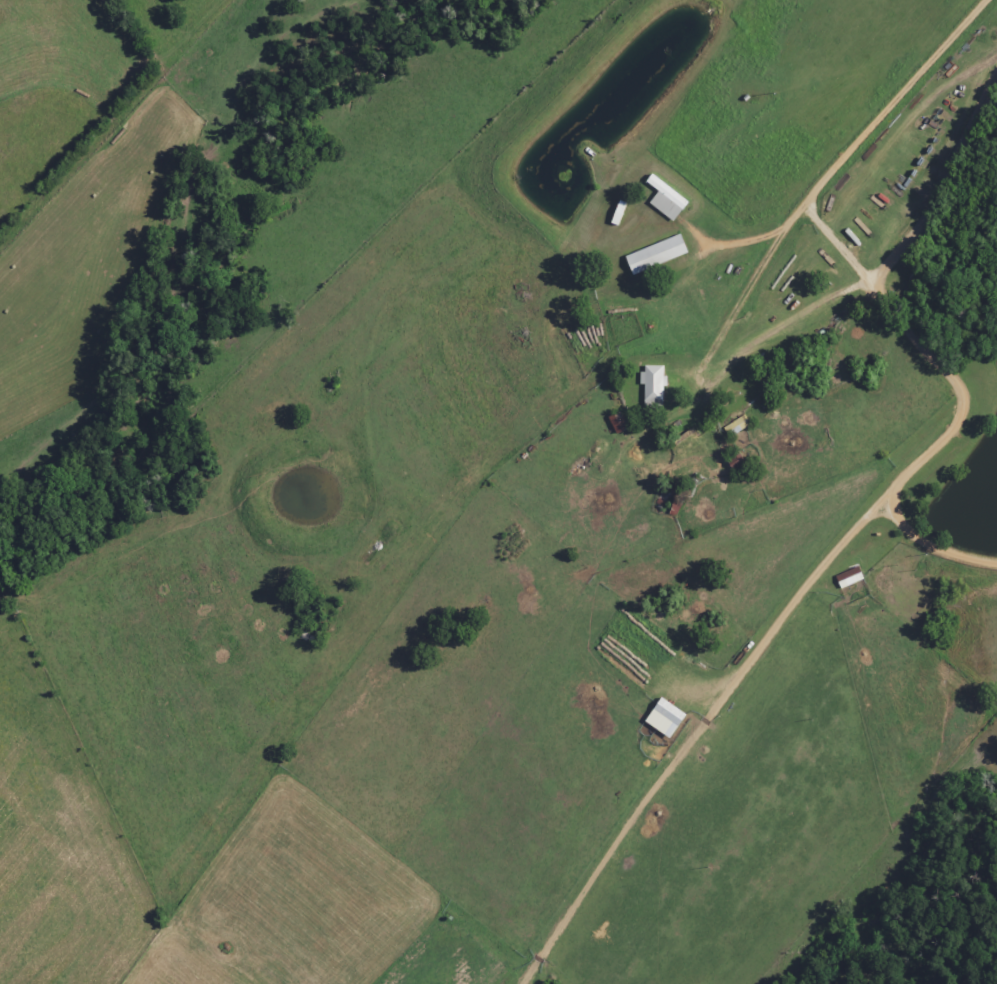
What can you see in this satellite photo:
building: (657, 199)
building: (646, 255)
road: (885, 290)
park: (831, 375)
building: (643, 388)
building: (609, 422)
building: (658, 500)

